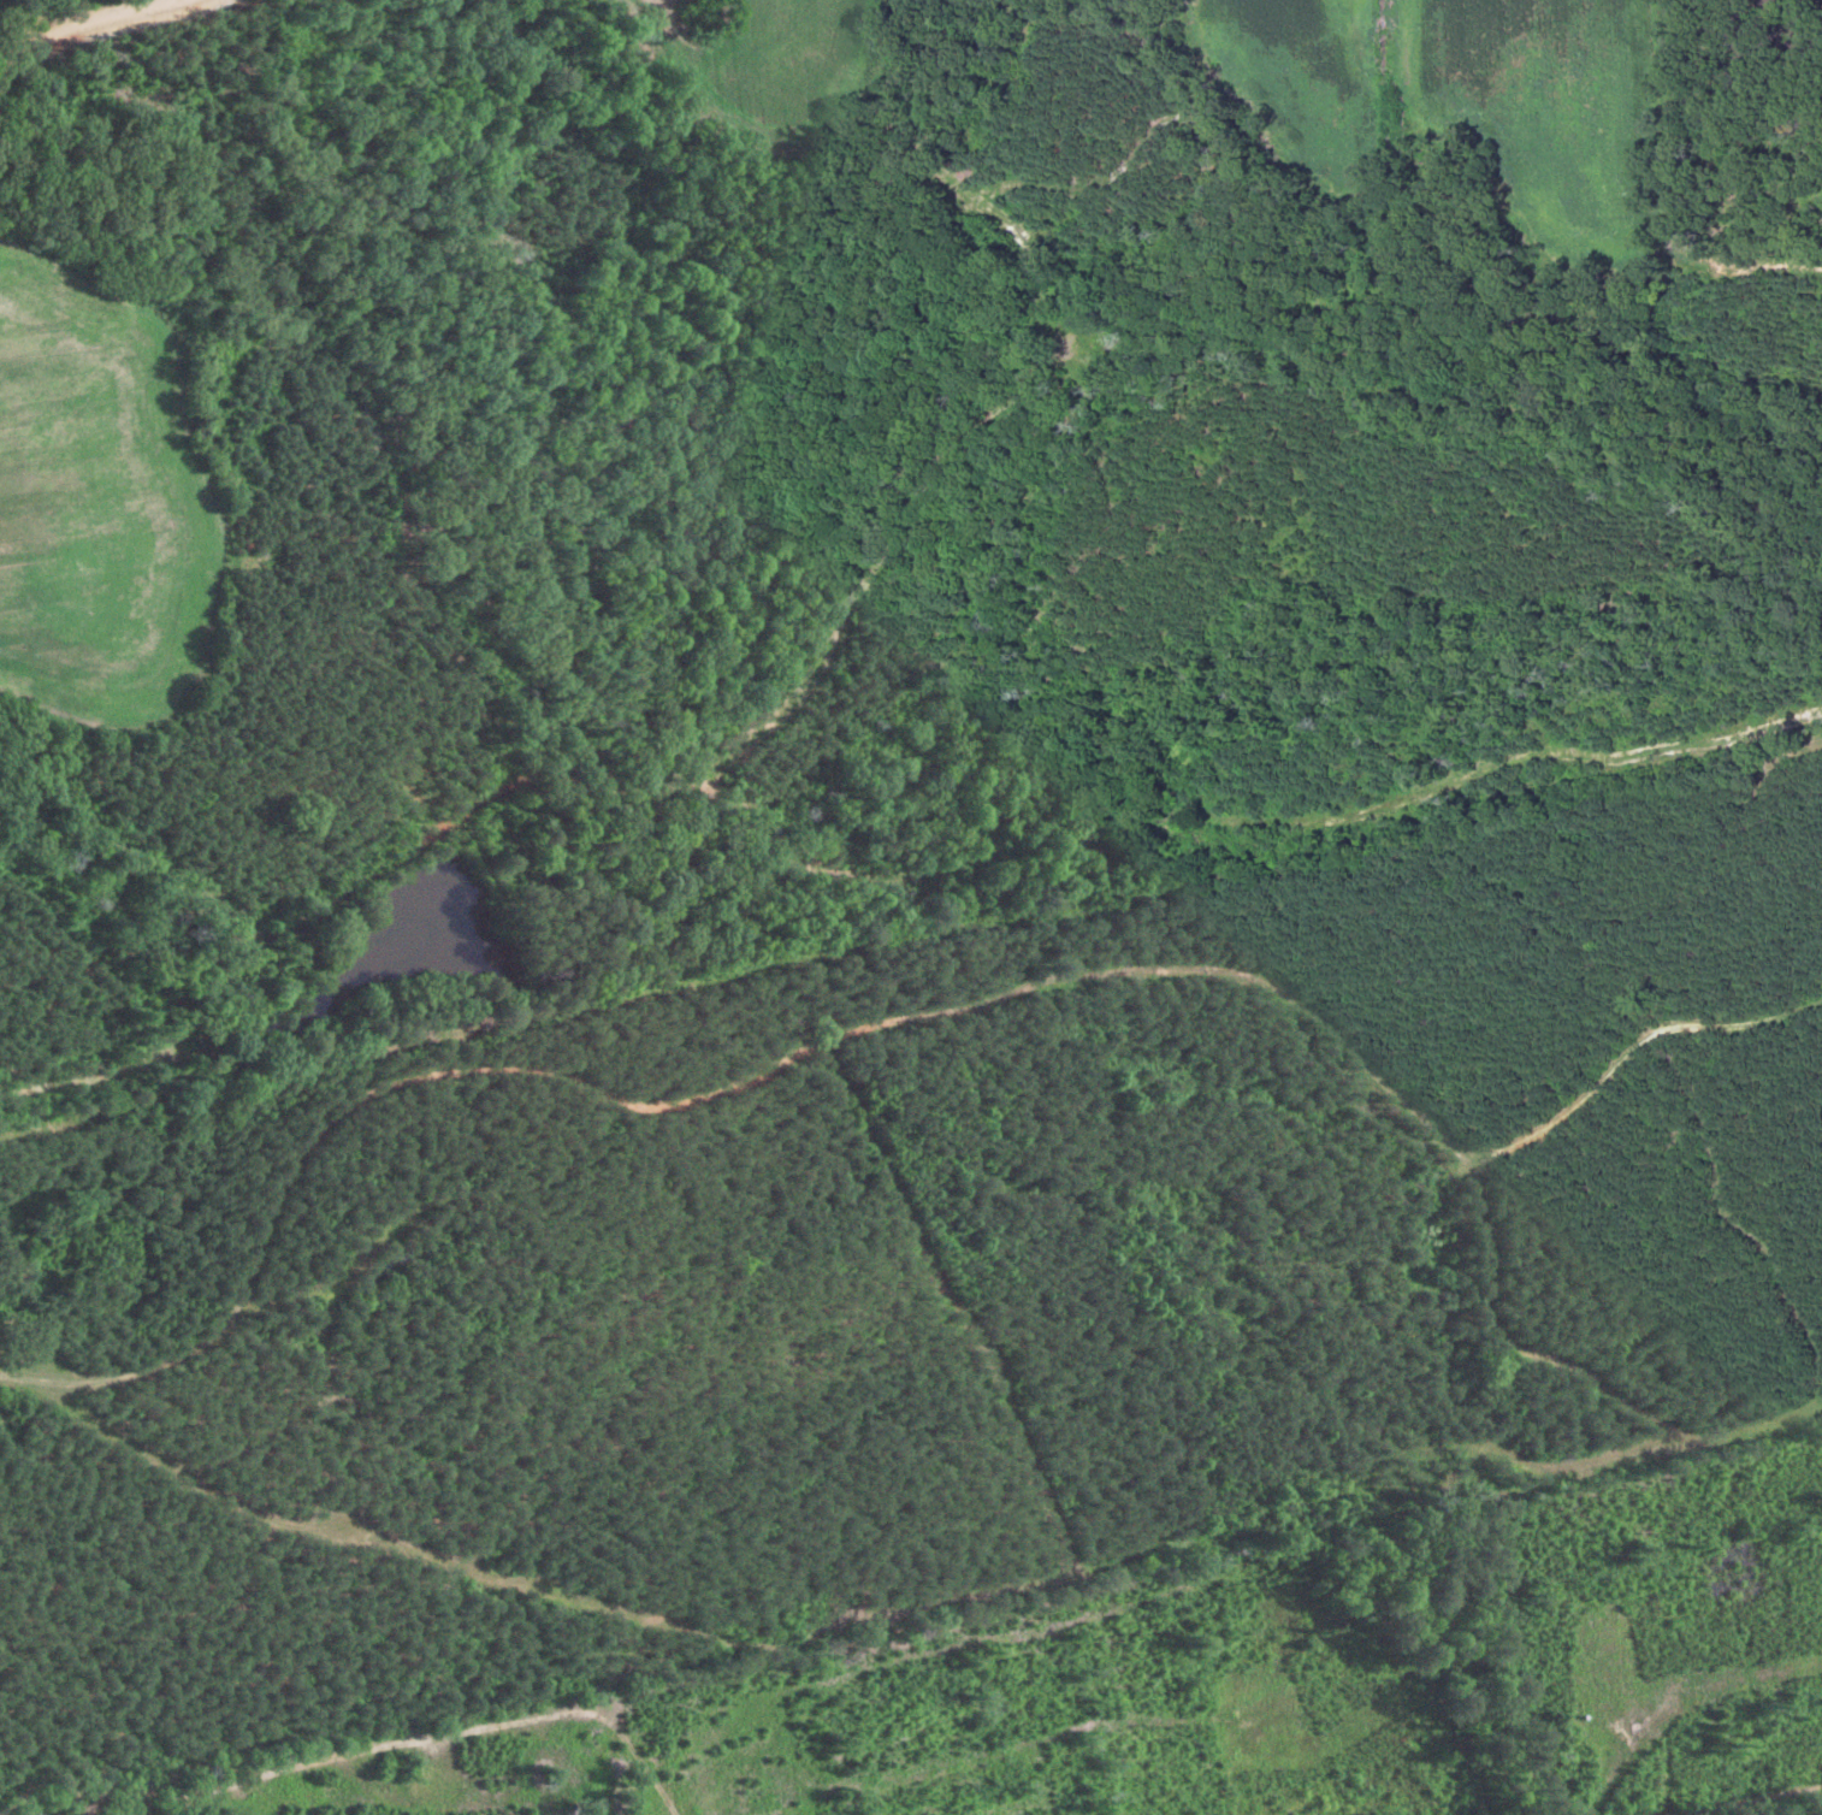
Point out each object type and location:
road: (159, 1535)
road: (72, 1544)

